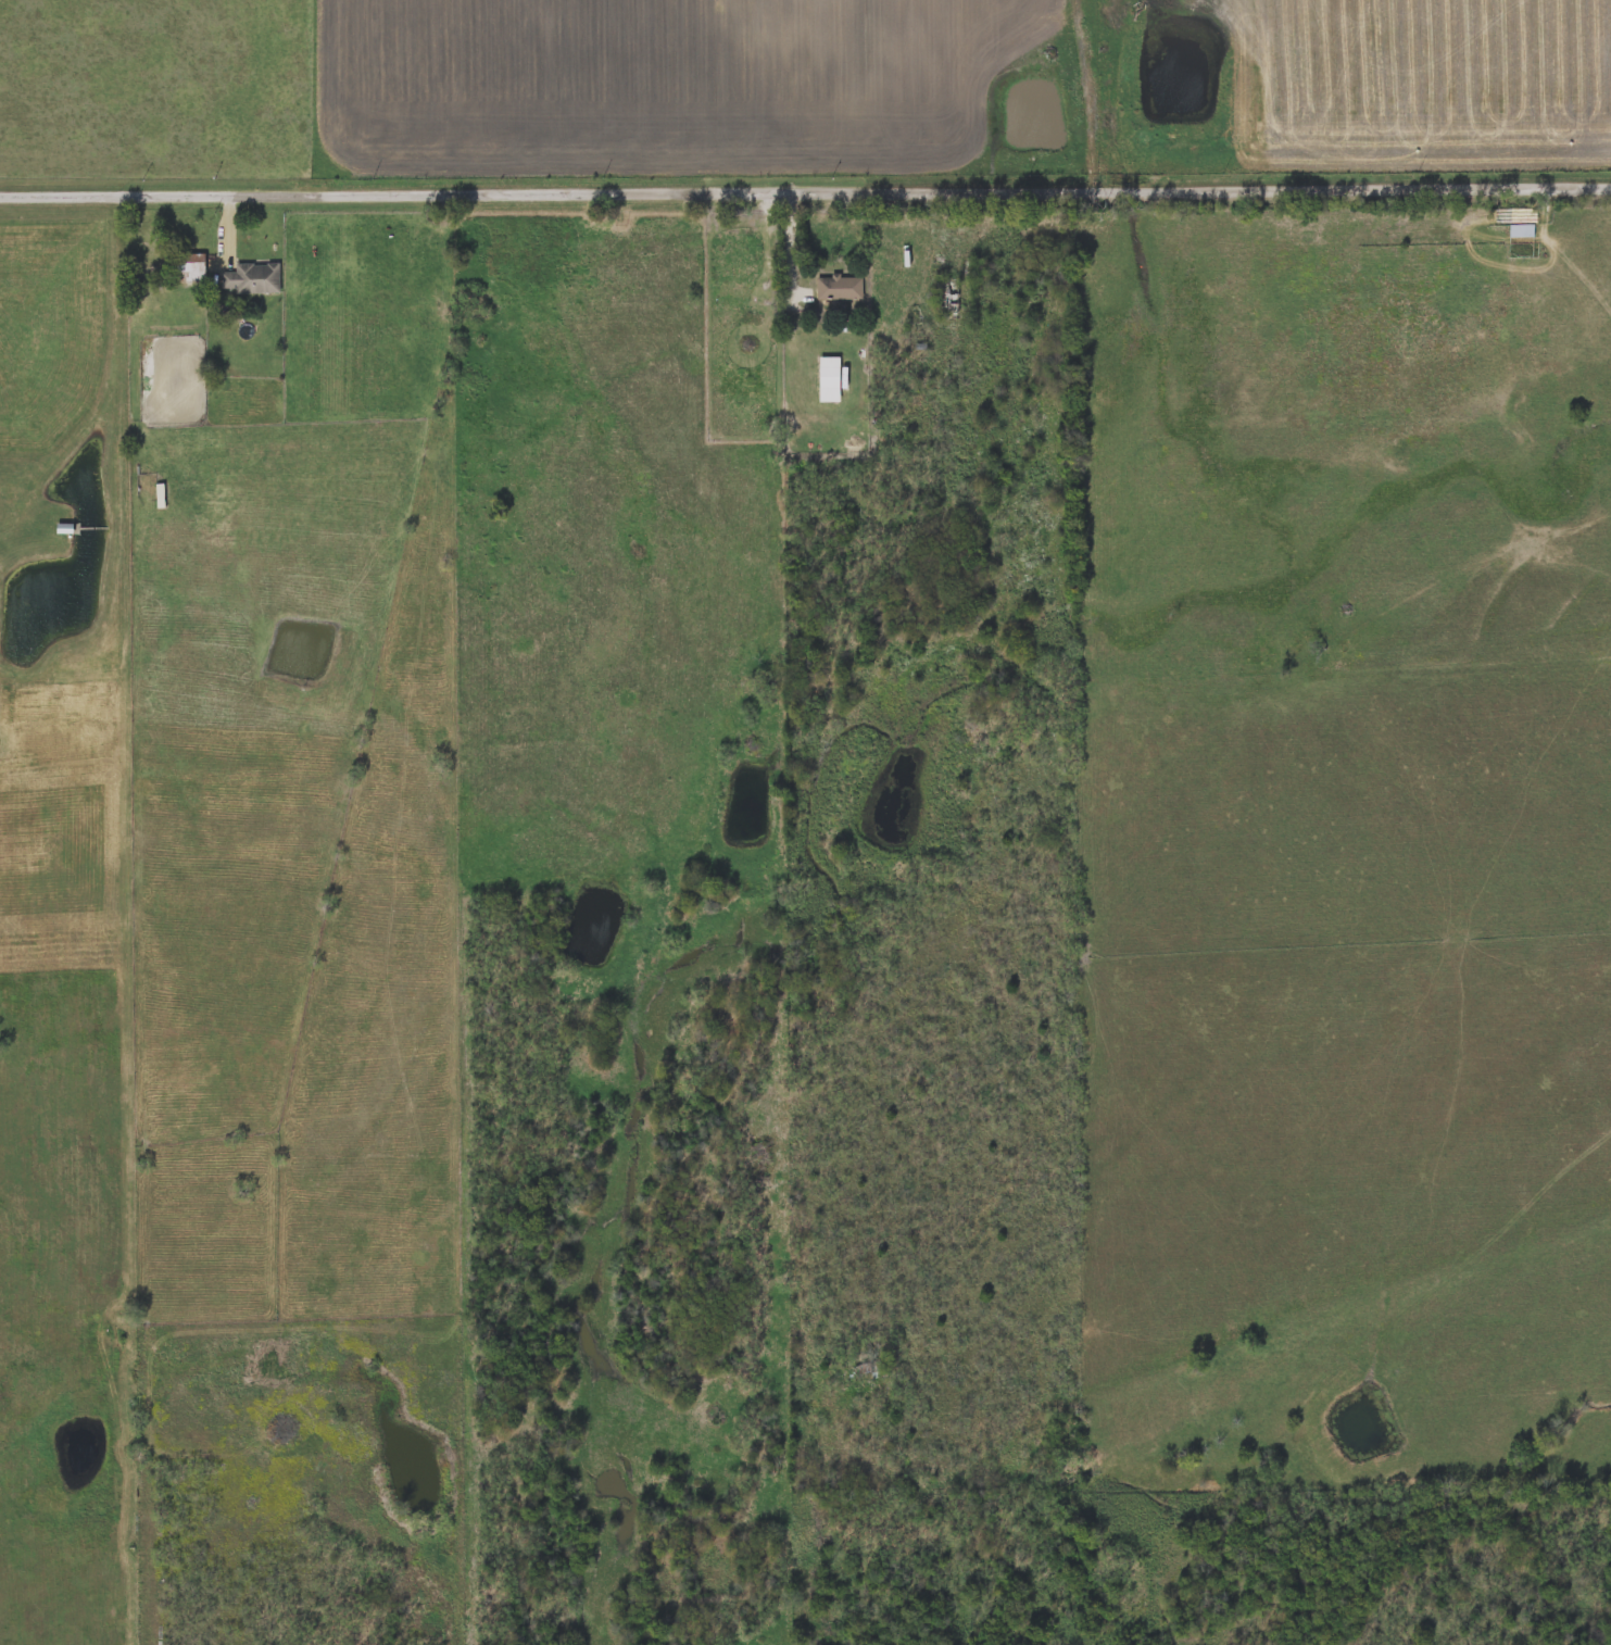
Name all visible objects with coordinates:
road: (805, 191)
road: (231, 225)
building: (1521, 229)
road: (792, 246)
building: (187, 267)
building: (251, 278)
building: (839, 288)
building: (742, 290)
building: (945, 296)
building: (828, 379)
building: (62, 530)

